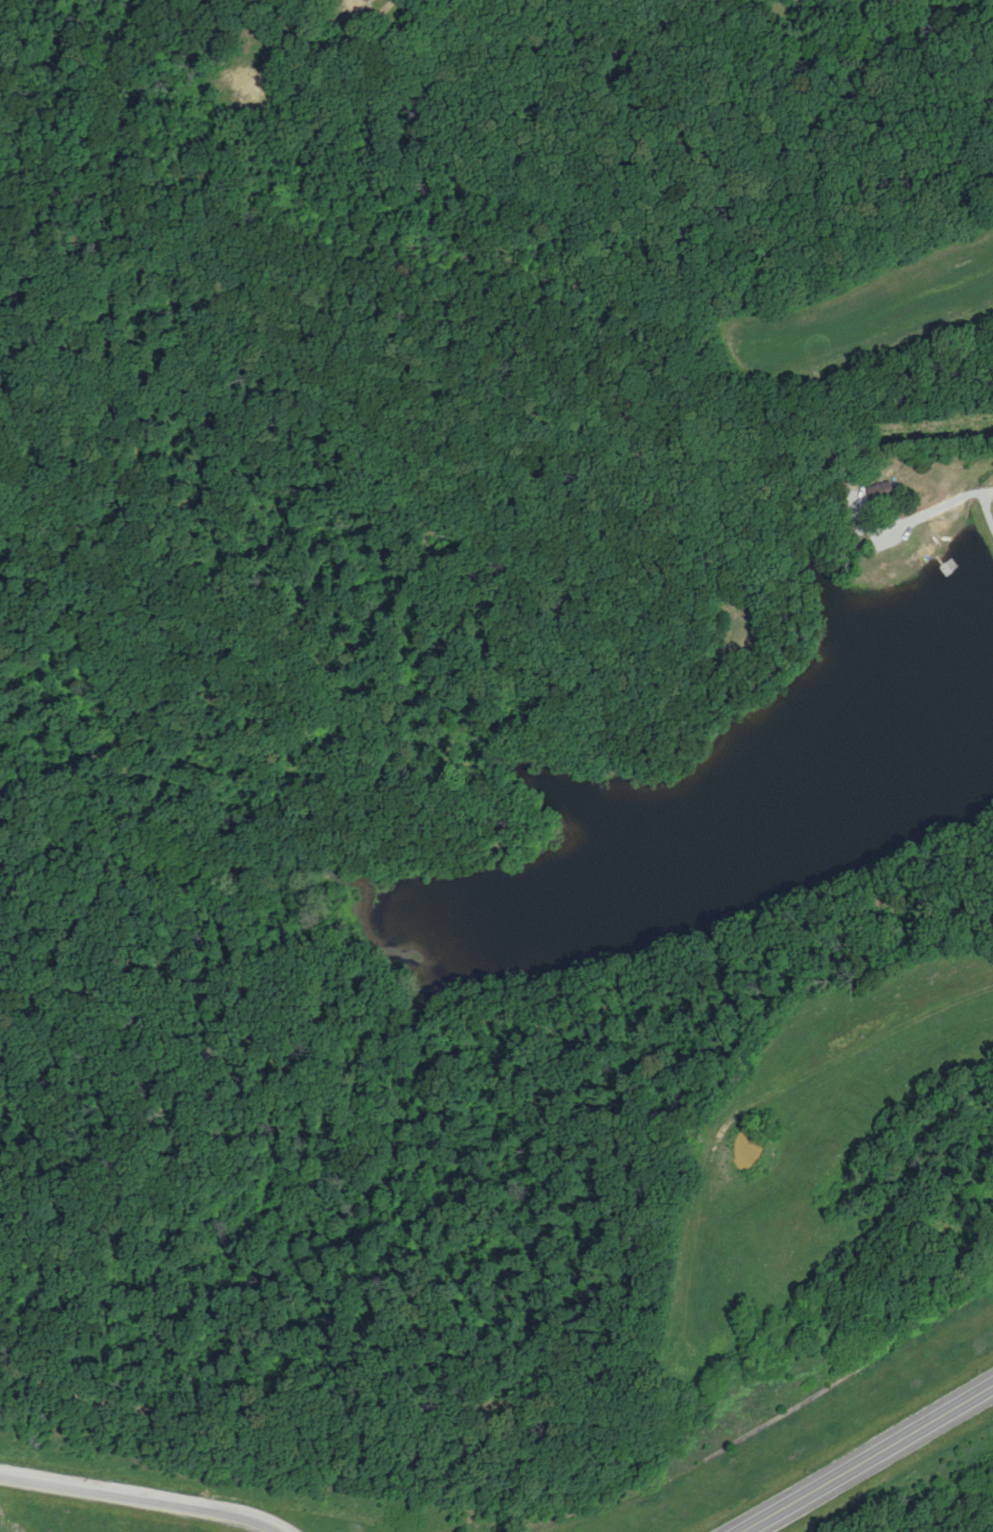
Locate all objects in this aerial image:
road: (991, 488)
road: (990, 498)
road: (927, 512)
road: (869, 1458)
road: (143, 1496)

